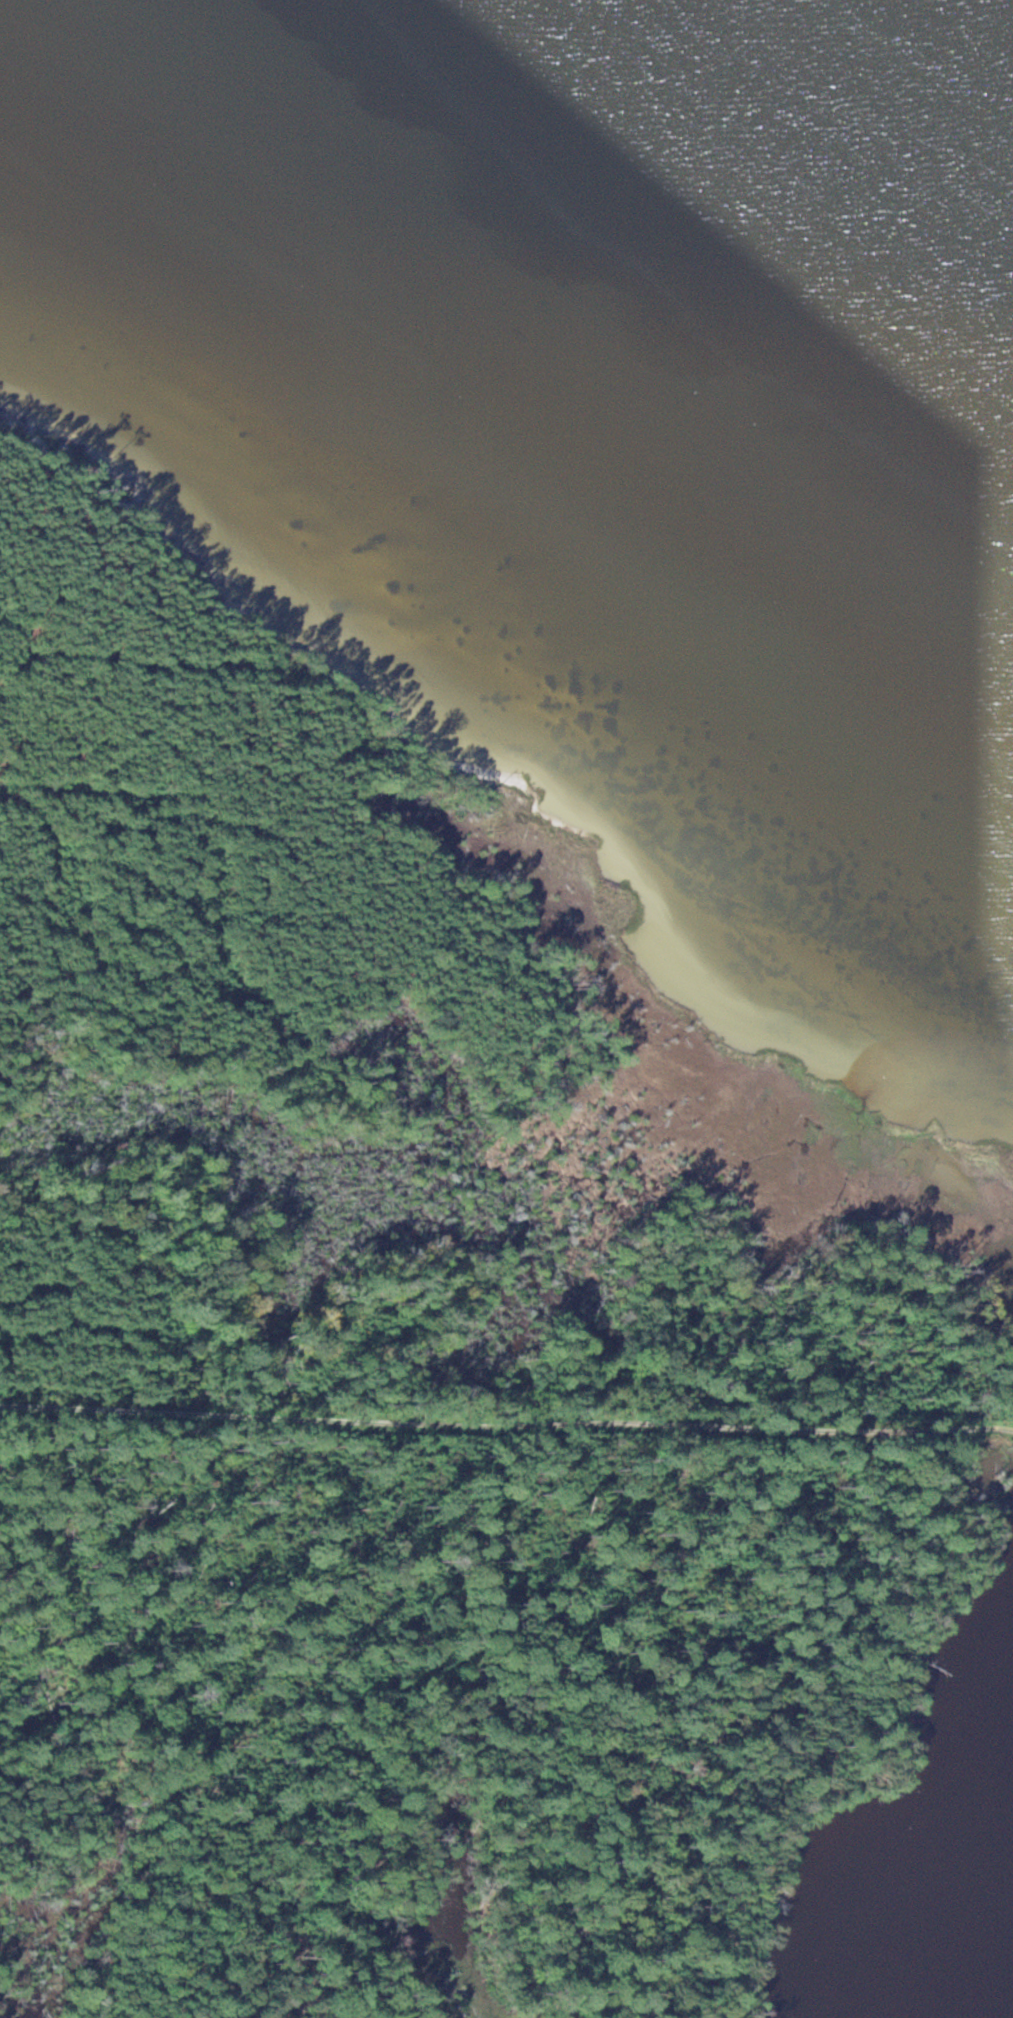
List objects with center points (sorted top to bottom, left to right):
river: (874, 177)
road: (506, 1450)

